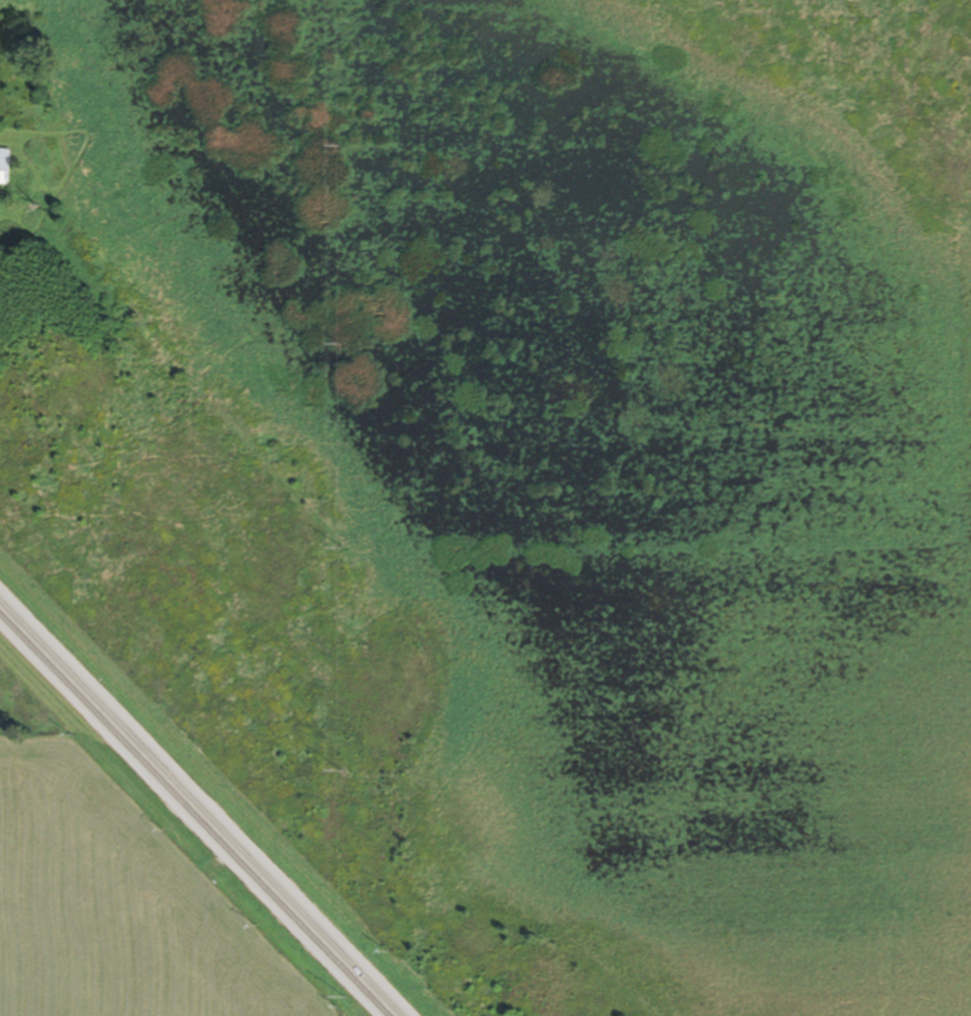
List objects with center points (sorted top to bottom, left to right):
building: (6, 167)
road: (199, 806)

